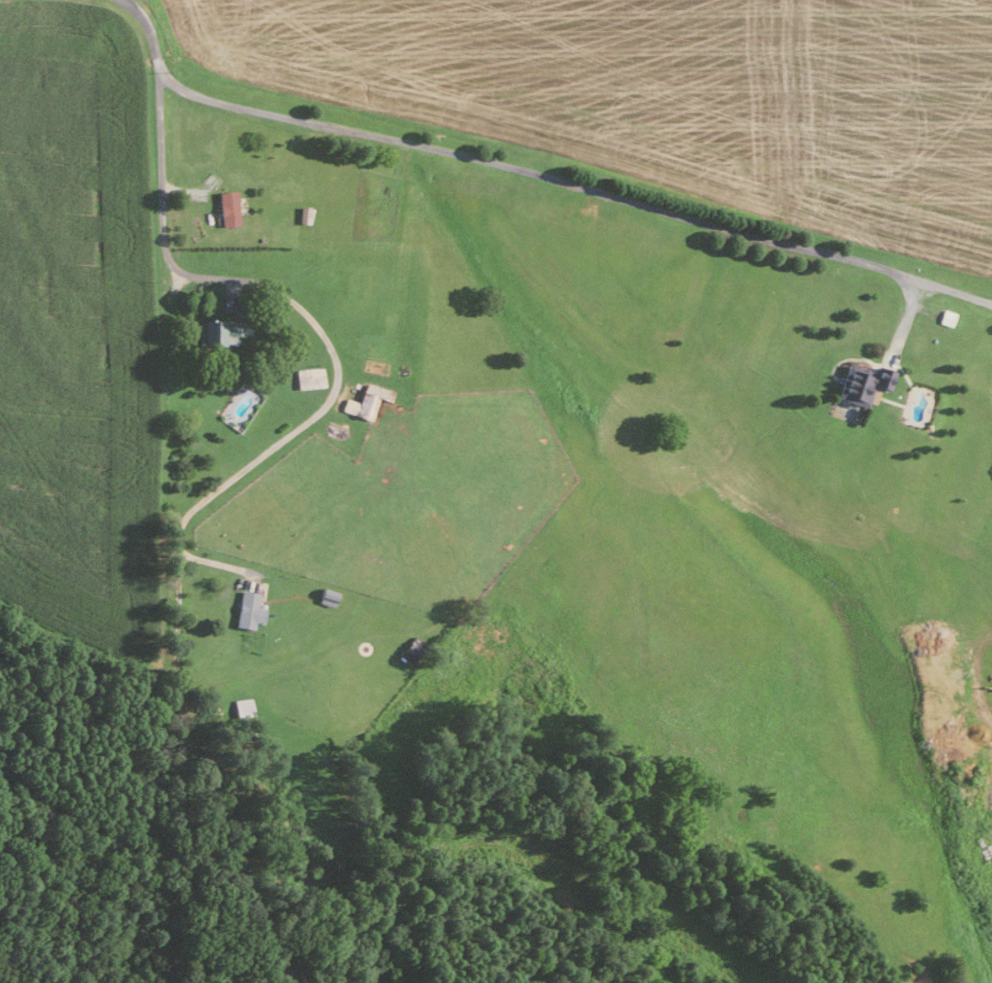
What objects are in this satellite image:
road: (158, 127)
road: (573, 183)
building: (226, 208)
building: (213, 330)
building: (307, 376)
building: (859, 381)
building: (364, 400)
building: (246, 609)
road: (176, 616)
building: (241, 706)

